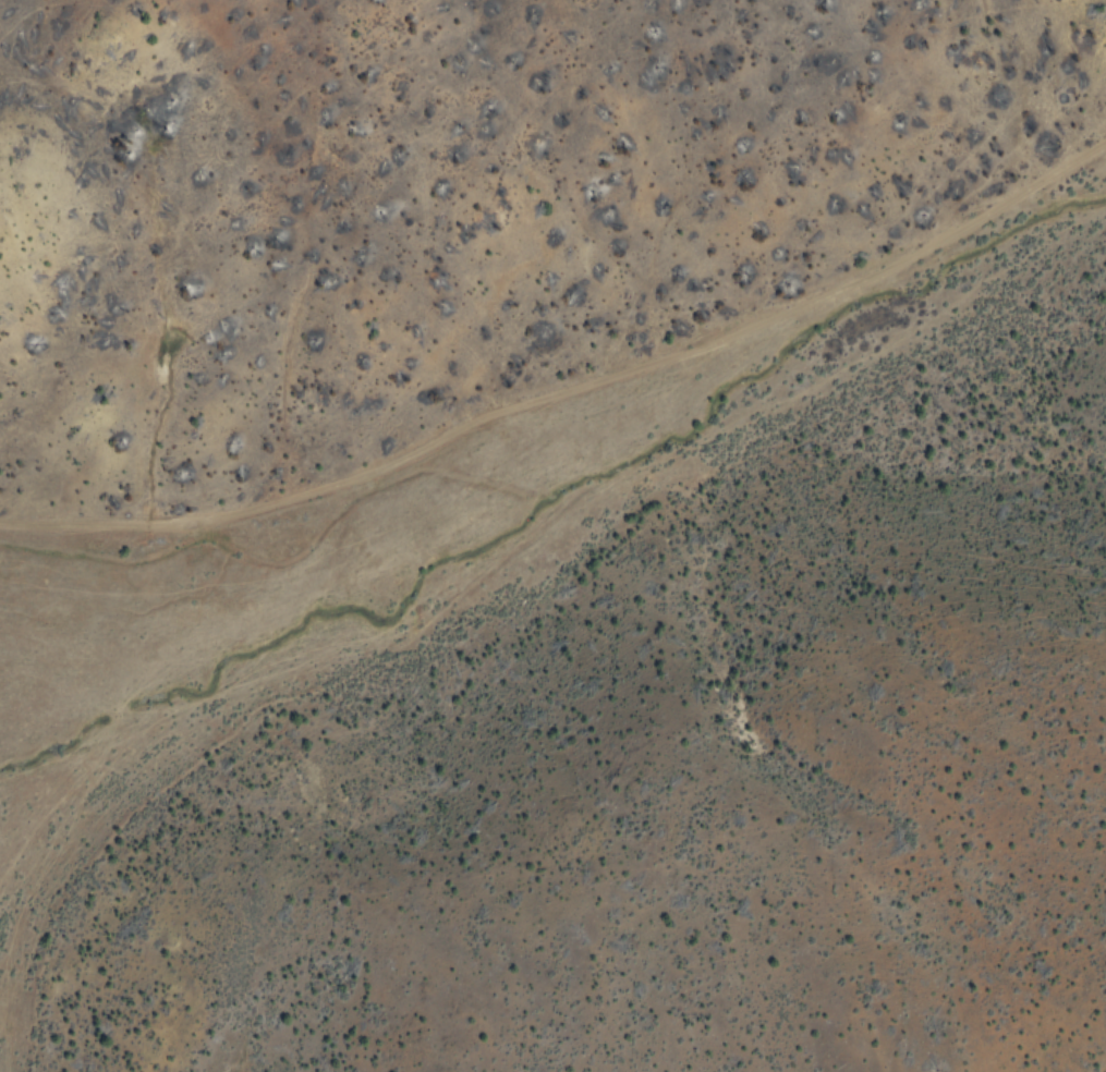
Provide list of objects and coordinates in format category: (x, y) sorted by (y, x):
road: (567, 375)

